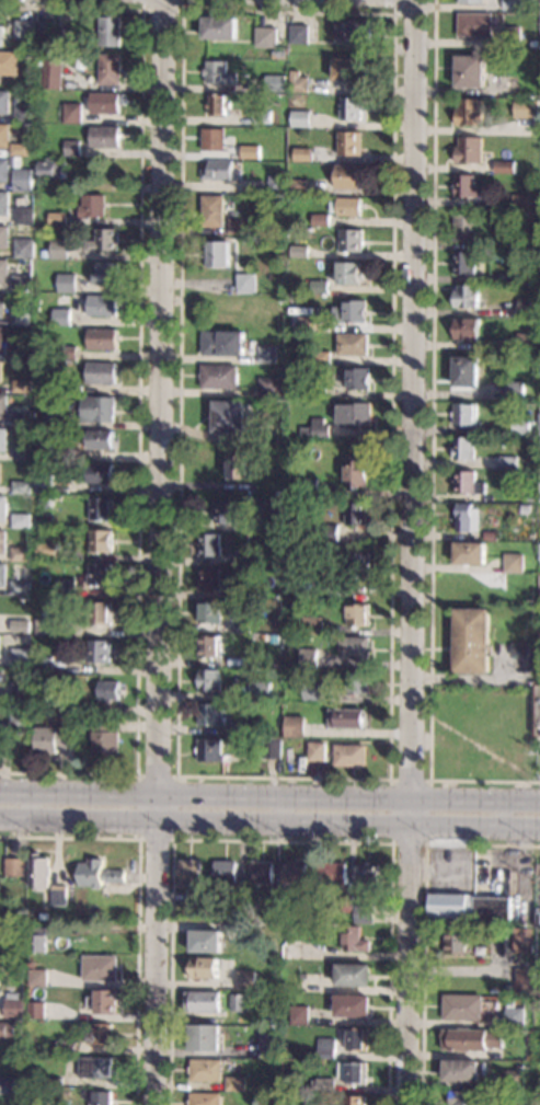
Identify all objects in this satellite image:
building: (471, 1)
building: (512, 4)
road: (161, 10)
road: (407, 14)
building: (474, 24)
building: (220, 27)
building: (24, 30)
building: (46, 30)
building: (354, 31)
building: (110, 32)
building: (299, 34)
building: (1, 35)
building: (265, 37)
building: (509, 37)
building: (283, 42)
building: (278, 54)
building: (9, 64)
building: (110, 69)
building: (351, 69)
building: (470, 71)
building: (51, 73)
building: (218, 73)
building: (539, 79)
building: (298, 82)
building: (275, 83)
building: (4, 102)
building: (105, 103)
building: (218, 105)
building: (349, 108)
building: (526, 108)
building: (72, 113)
building: (468, 113)
building: (24, 114)
building: (262, 117)
building: (300, 118)
building: (503, 129)
building: (4, 136)
building: (105, 137)
building: (212, 140)
building: (349, 143)
building: (72, 148)
building: (19, 149)
building: (468, 150)
building: (248, 152)
building: (302, 154)
building: (504, 166)
building: (4, 170)
building: (53, 170)
building: (219, 171)
building: (347, 177)
building: (23, 180)
building: (276, 184)
building: (39, 185)
building: (299, 186)
building: (77, 187)
building: (468, 187)
building: (521, 203)
building: (4, 204)
building: (92, 206)
building: (346, 207)
building: (212, 211)
building: (24, 216)
building: (58, 219)
building: (319, 220)
building: (237, 226)
building: (463, 228)
building: (4, 238)
building: (104, 241)
building: (349, 241)
building: (496, 243)
building: (24, 249)
building: (59, 250)
building: (299, 251)
building: (217, 253)
building: (44, 254)
building: (463, 263)
building: (3, 272)
building: (107, 274)
building: (348, 274)
building: (526, 276)
building: (67, 283)
building: (23, 284)
building: (245, 284)
building: (319, 287)
building: (466, 296)
building: (2, 306)
building: (103, 306)
building: (526, 308)
building: (349, 312)
building: (61, 316)
building: (21, 318)
building: (308, 323)
building: (466, 330)
building: (1, 337)
building: (102, 339)
building: (526, 342)
building: (221, 343)
building: (352, 344)
building: (19, 352)
building: (68, 353)
building: (266, 355)
building: (321, 357)
building: (1, 371)
building: (466, 371)
building: (101, 373)
building: (218, 377)
building: (357, 379)
building: (271, 385)
building: (23, 387)
building: (43, 387)
road: (138, 390)
building: (317, 391)
building: (515, 391)
building: (3, 405)
building: (97, 410)
building: (355, 414)
building: (464, 414)
building: (229, 416)
building: (22, 418)
building: (57, 418)
building: (539, 425)
building: (520, 426)
building: (314, 429)
building: (3, 439)
building: (100, 439)
road: (430, 445)
building: (45, 448)
building: (462, 449)
building: (23, 451)
building: (250, 461)
building: (507, 462)
building: (237, 465)
building: (356, 470)
building: (1, 473)
building: (100, 473)
building: (43, 483)
building: (467, 483)
building: (309, 484)
building: (22, 487)
building: (539, 494)
building: (49, 502)
building: (3, 508)
building: (101, 509)
building: (276, 509)
building: (525, 509)
building: (225, 511)
building: (356, 514)
building: (467, 518)
building: (22, 520)
building: (325, 532)
building: (531, 534)
building: (490, 536)
building: (249, 537)
building: (3, 541)
building: (101, 541)
building: (210, 544)
building: (46, 551)
road: (160, 552)
road: (411, 552)
building: (539, 552)
building: (469, 553)
building: (21, 554)
building: (240, 559)
building: (513, 563)
building: (359, 565)
building: (3, 575)
building: (100, 575)
building: (209, 578)
building: (21, 588)
building: (67, 588)
building: (336, 588)
building: (239, 589)
building: (210, 612)
building: (100, 613)
building: (357, 614)
building: (312, 625)
building: (20, 626)
building: (45, 626)
building: (240, 626)
building: (539, 637)
building: (274, 638)
building: (471, 641)
building: (0, 645)
building: (209, 646)
building: (354, 647)
building: (519, 649)
building: (100, 652)
building: (21, 657)
building: (308, 657)
building: (44, 665)
building: (539, 676)
building: (209, 680)
building: (358, 683)
building: (22, 690)
building: (97, 690)
building: (261, 691)
building: (310, 691)
building: (42, 701)
building: (538, 712)
building: (36, 715)
building: (209, 715)
building: (346, 718)
building: (20, 723)
building: (295, 726)
building: (239, 729)
building: (105, 738)
building: (49, 740)
building: (5, 743)
building: (305, 746)
building: (272, 749)
building: (210, 750)
building: (317, 751)
building: (349, 756)
road: (389, 780)
road: (269, 797)
road: (269, 820)
road: (172, 834)
road: (278, 841)
road: (426, 841)
building: (15, 867)
building: (41, 872)
building: (262, 873)
building: (332, 873)
building: (99, 874)
building: (225, 874)
building: (295, 874)
building: (368, 875)
building: (192, 879)
building: (59, 895)
building: (237, 900)
road: (137, 901)
building: (347, 902)
building: (272, 907)
building: (469, 907)
building: (308, 913)
building: (364, 914)
road: (425, 917)
building: (538, 917)
building: (56, 924)
building: (38, 940)
building: (355, 940)
building: (522, 941)
building: (207, 942)
building: (457, 942)
building: (292, 951)
building: (101, 968)
building: (204, 968)
building: (354, 975)
building: (303, 977)
building: (38, 978)
building: (248, 980)
building: (521, 981)
building: (106, 1002)
building: (204, 1002)
building: (239, 1002)
building: (353, 1005)
building: (463, 1008)
building: (15, 1009)
building: (37, 1011)
building: (300, 1015)
building: (514, 1017)
building: (7, 1029)
building: (101, 1035)
building: (206, 1038)
building: (357, 1040)
building: (471, 1040)
building: (269, 1046)
building: (67, 1047)
building: (326, 1048)
building: (528, 1058)
building: (96, 1067)
building: (539, 1070)
building: (206, 1071)
building: (462, 1071)
building: (354, 1073)
building: (515, 1080)
building: (59, 1082)
building: (235, 1084)
building: (324, 1085)
building: (7, 1086)
building: (102, 1098)
building: (205, 1098)
building: (466, 1098)
building: (356, 1100)

